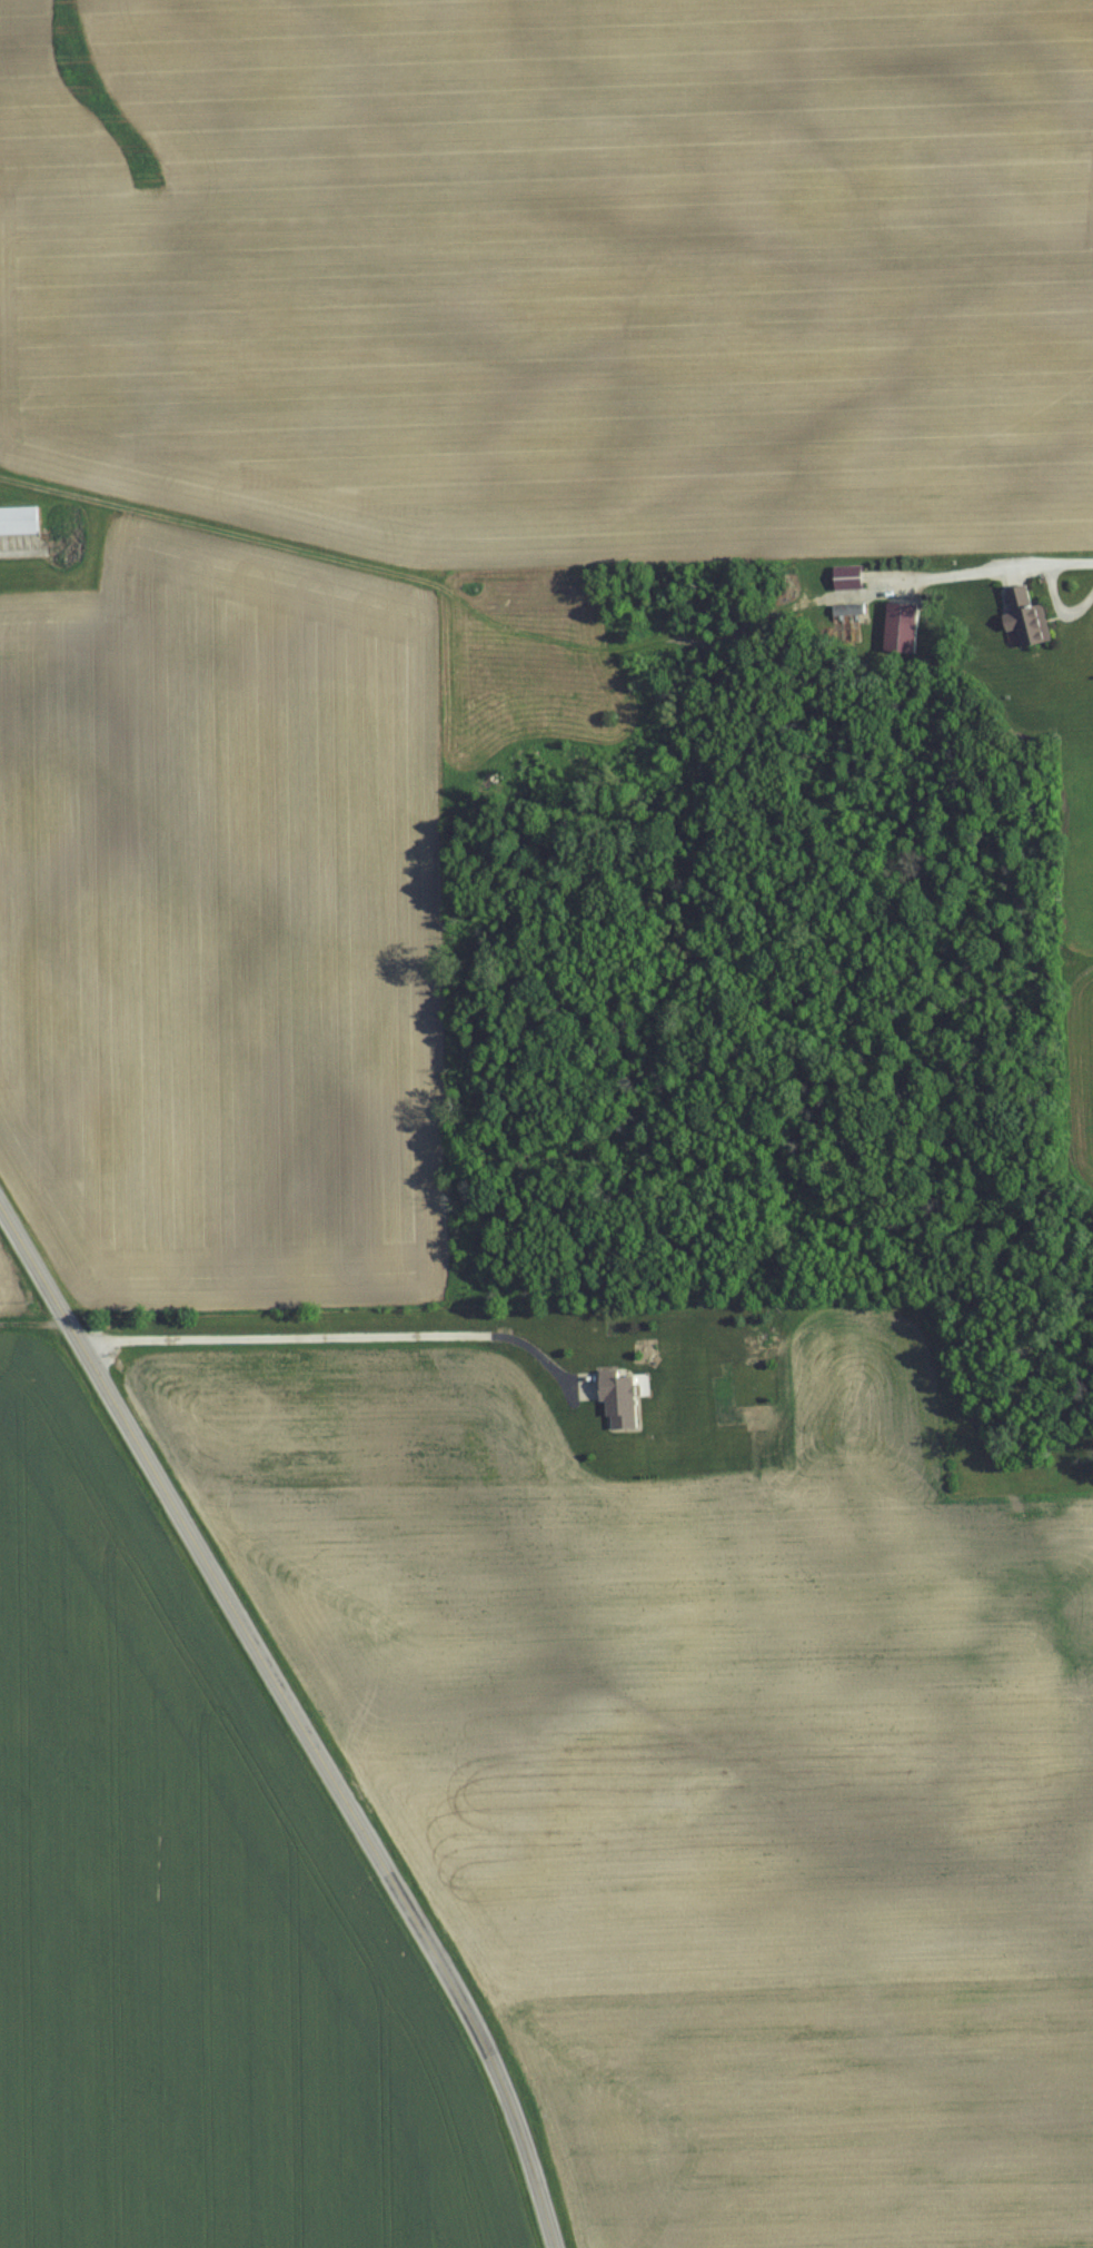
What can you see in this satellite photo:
building: (20, 521)
road: (1072, 559)
building: (853, 580)
building: (851, 608)
building: (1025, 615)
building: (904, 626)
road: (339, 1330)
building: (624, 1398)
road: (295, 1716)

